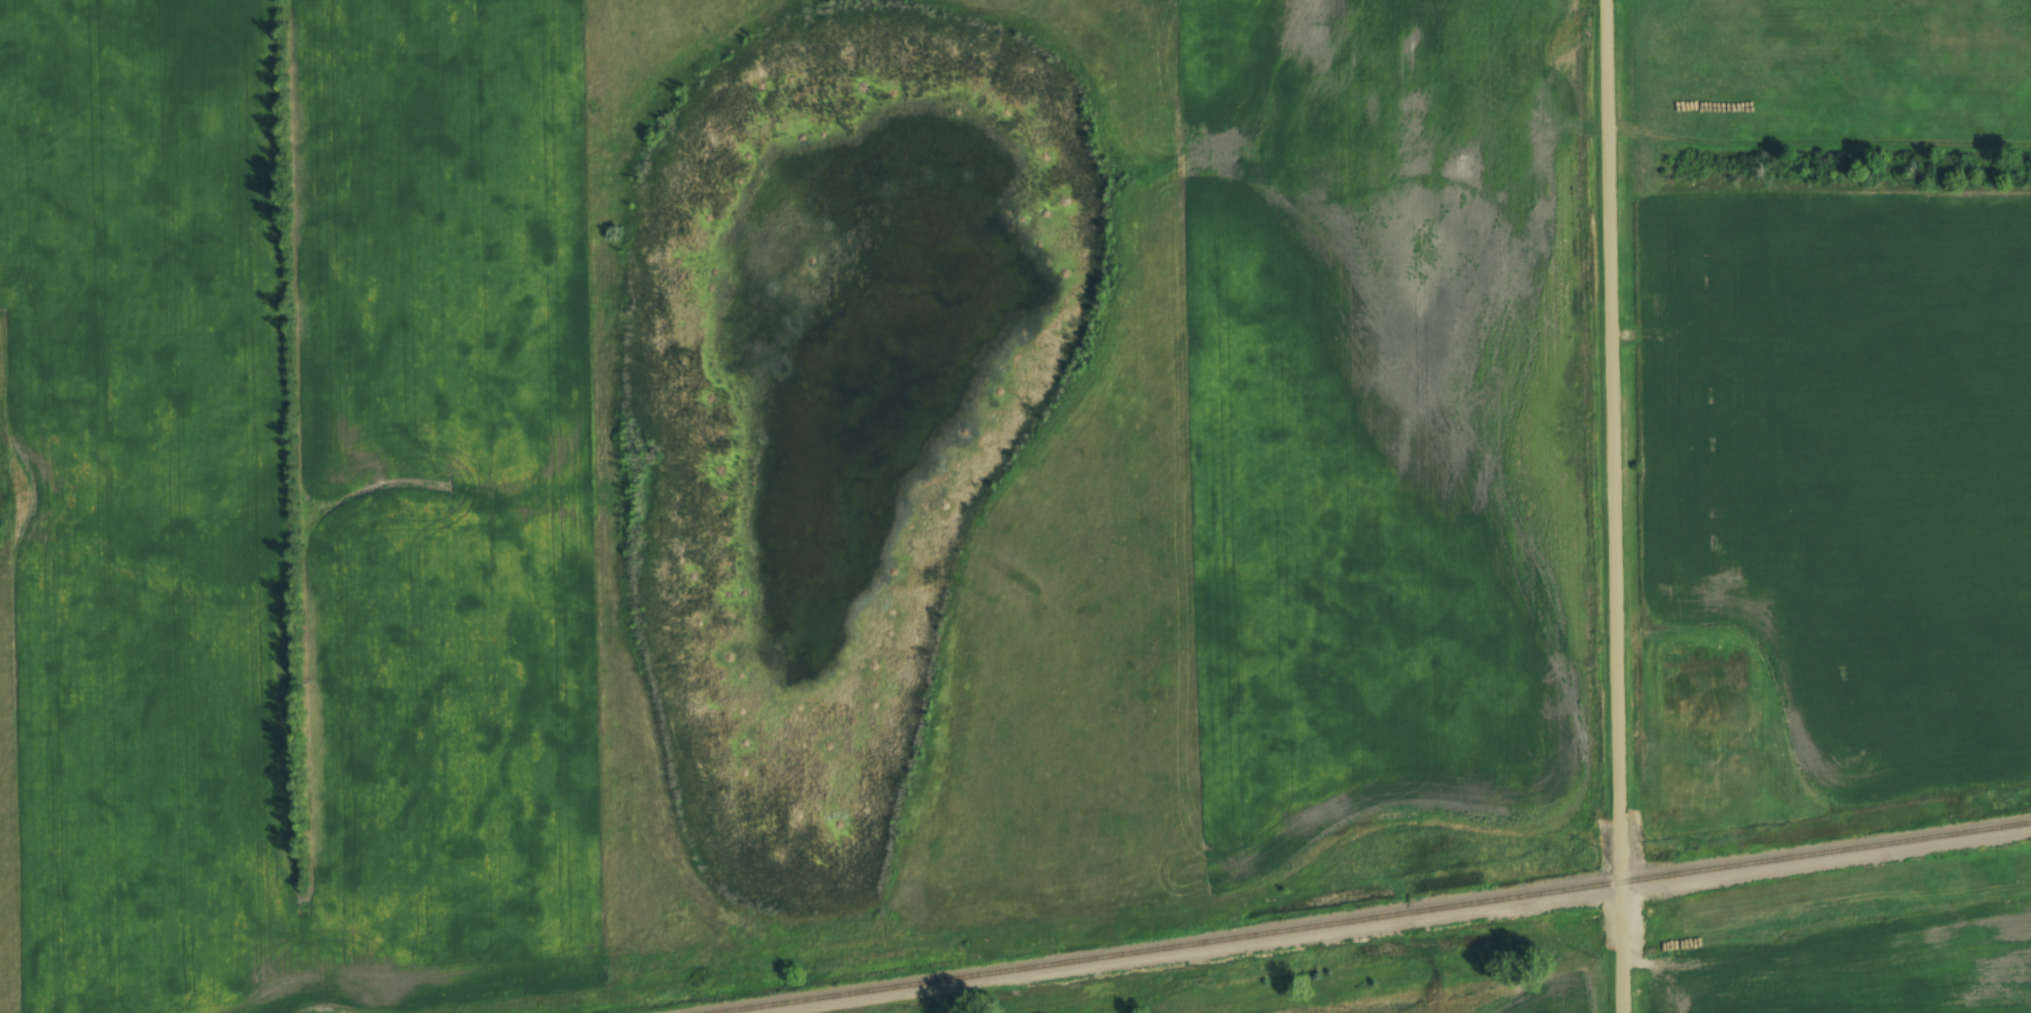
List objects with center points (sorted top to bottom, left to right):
road: (1613, 506)
railway: (1370, 917)

